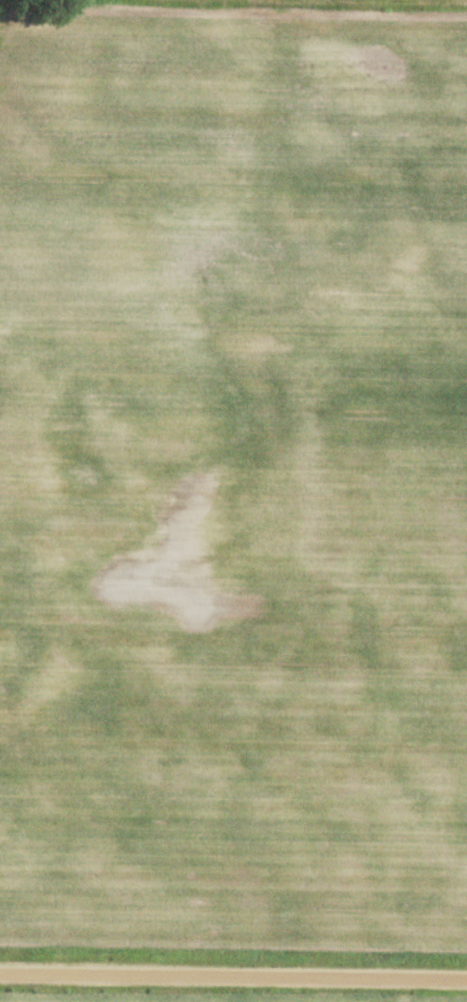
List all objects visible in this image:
road: (374, 766)
road: (233, 977)

